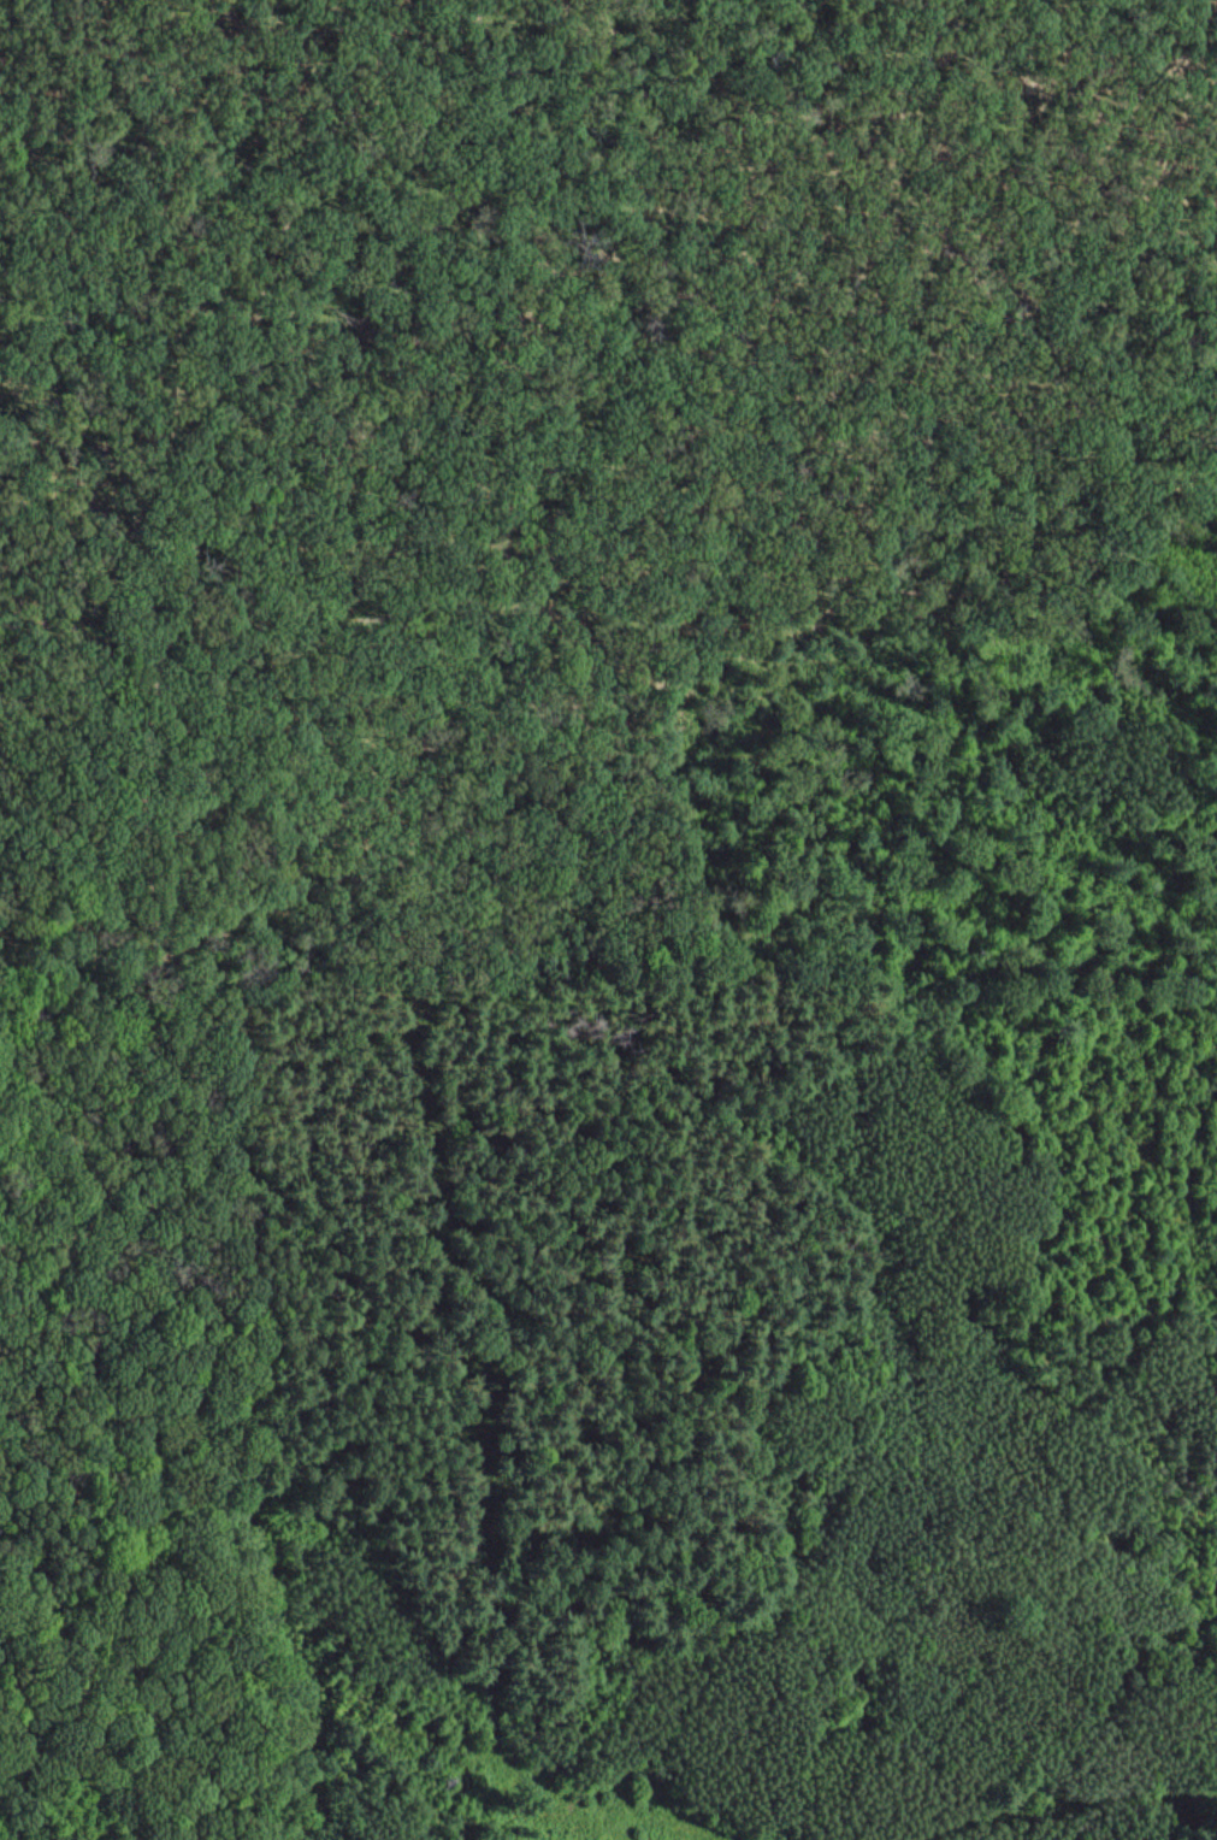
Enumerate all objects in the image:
road: (193, 513)
road: (99, 1209)
road: (196, 1669)

